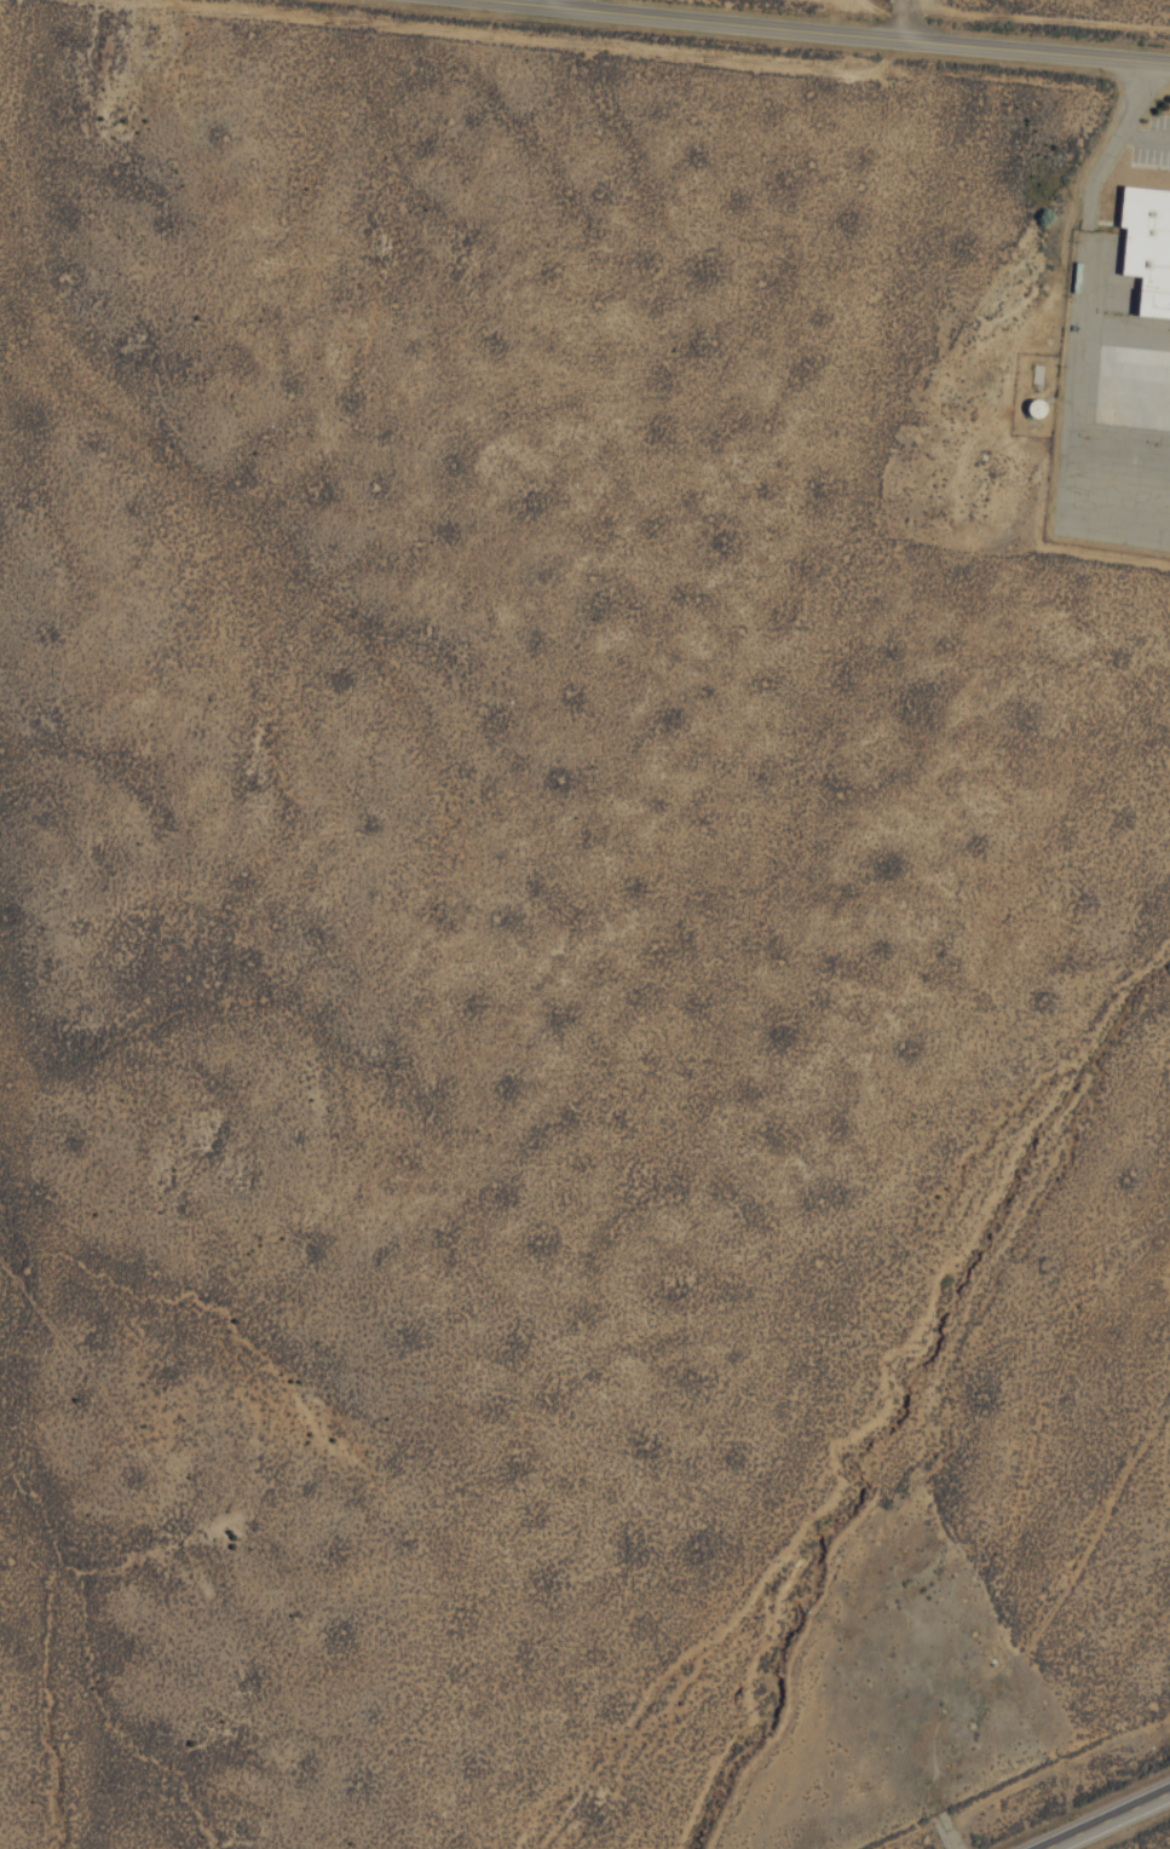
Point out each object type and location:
road: (551, 1)
road: (904, 18)
road: (840, 30)
parking lot: (1154, 151)
building: (1149, 259)
building: (1030, 405)
storage tank: (1030, 405)
road: (1105, 1819)

